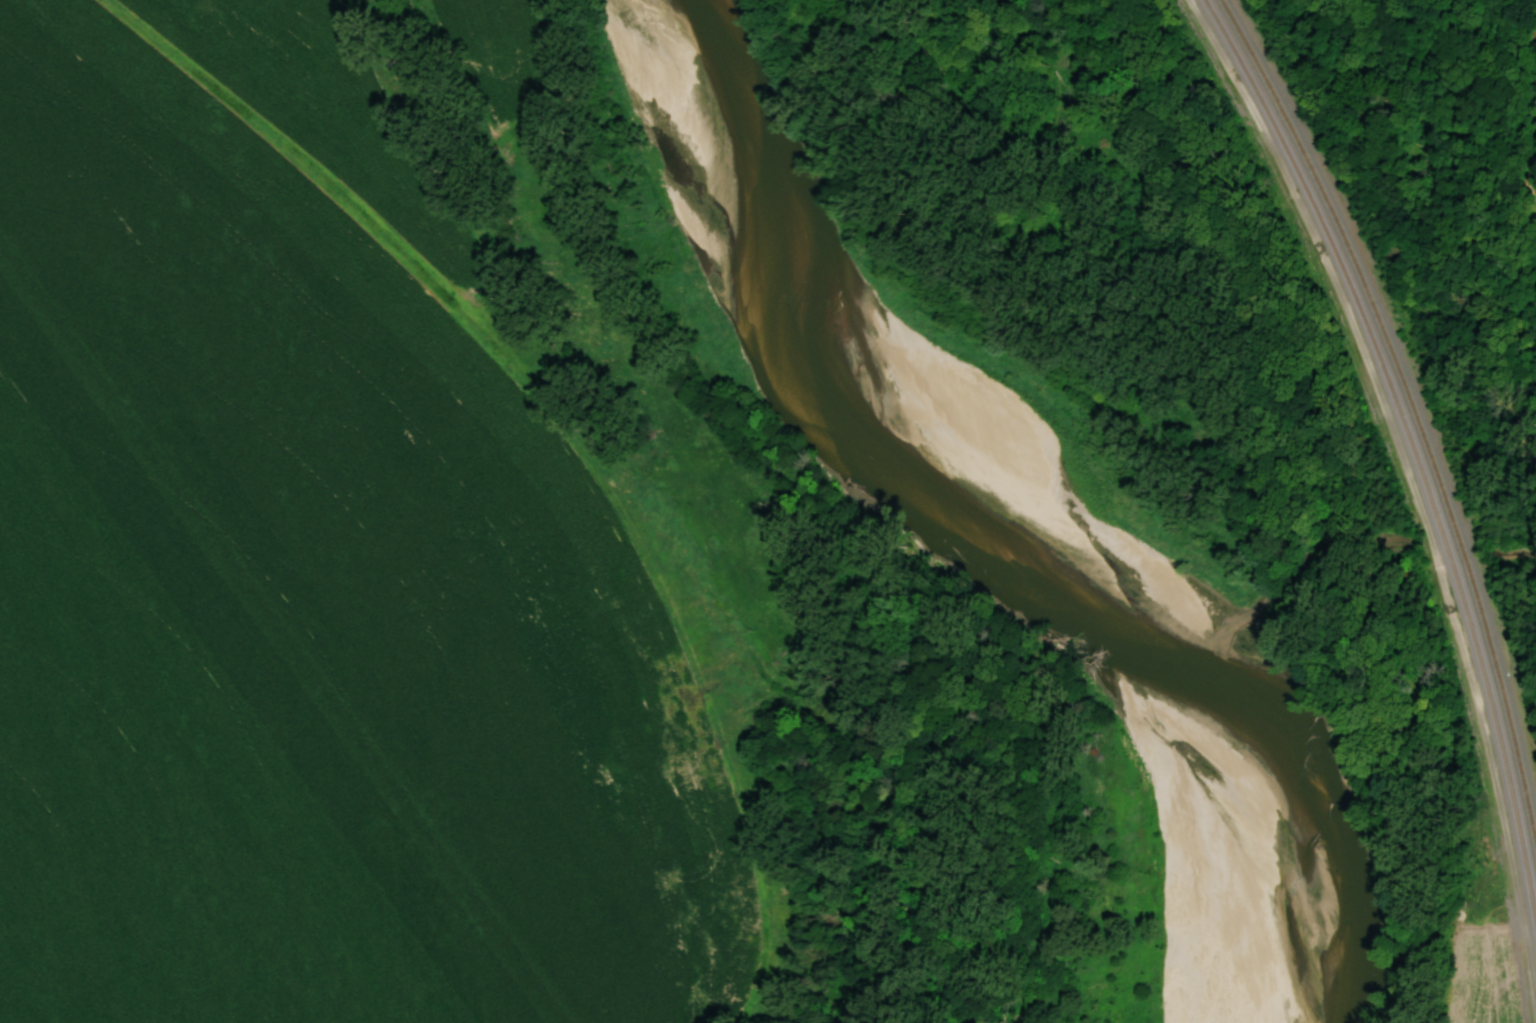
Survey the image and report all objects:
railway: (1414, 414)
railway: (1410, 453)
river: (1005, 496)

